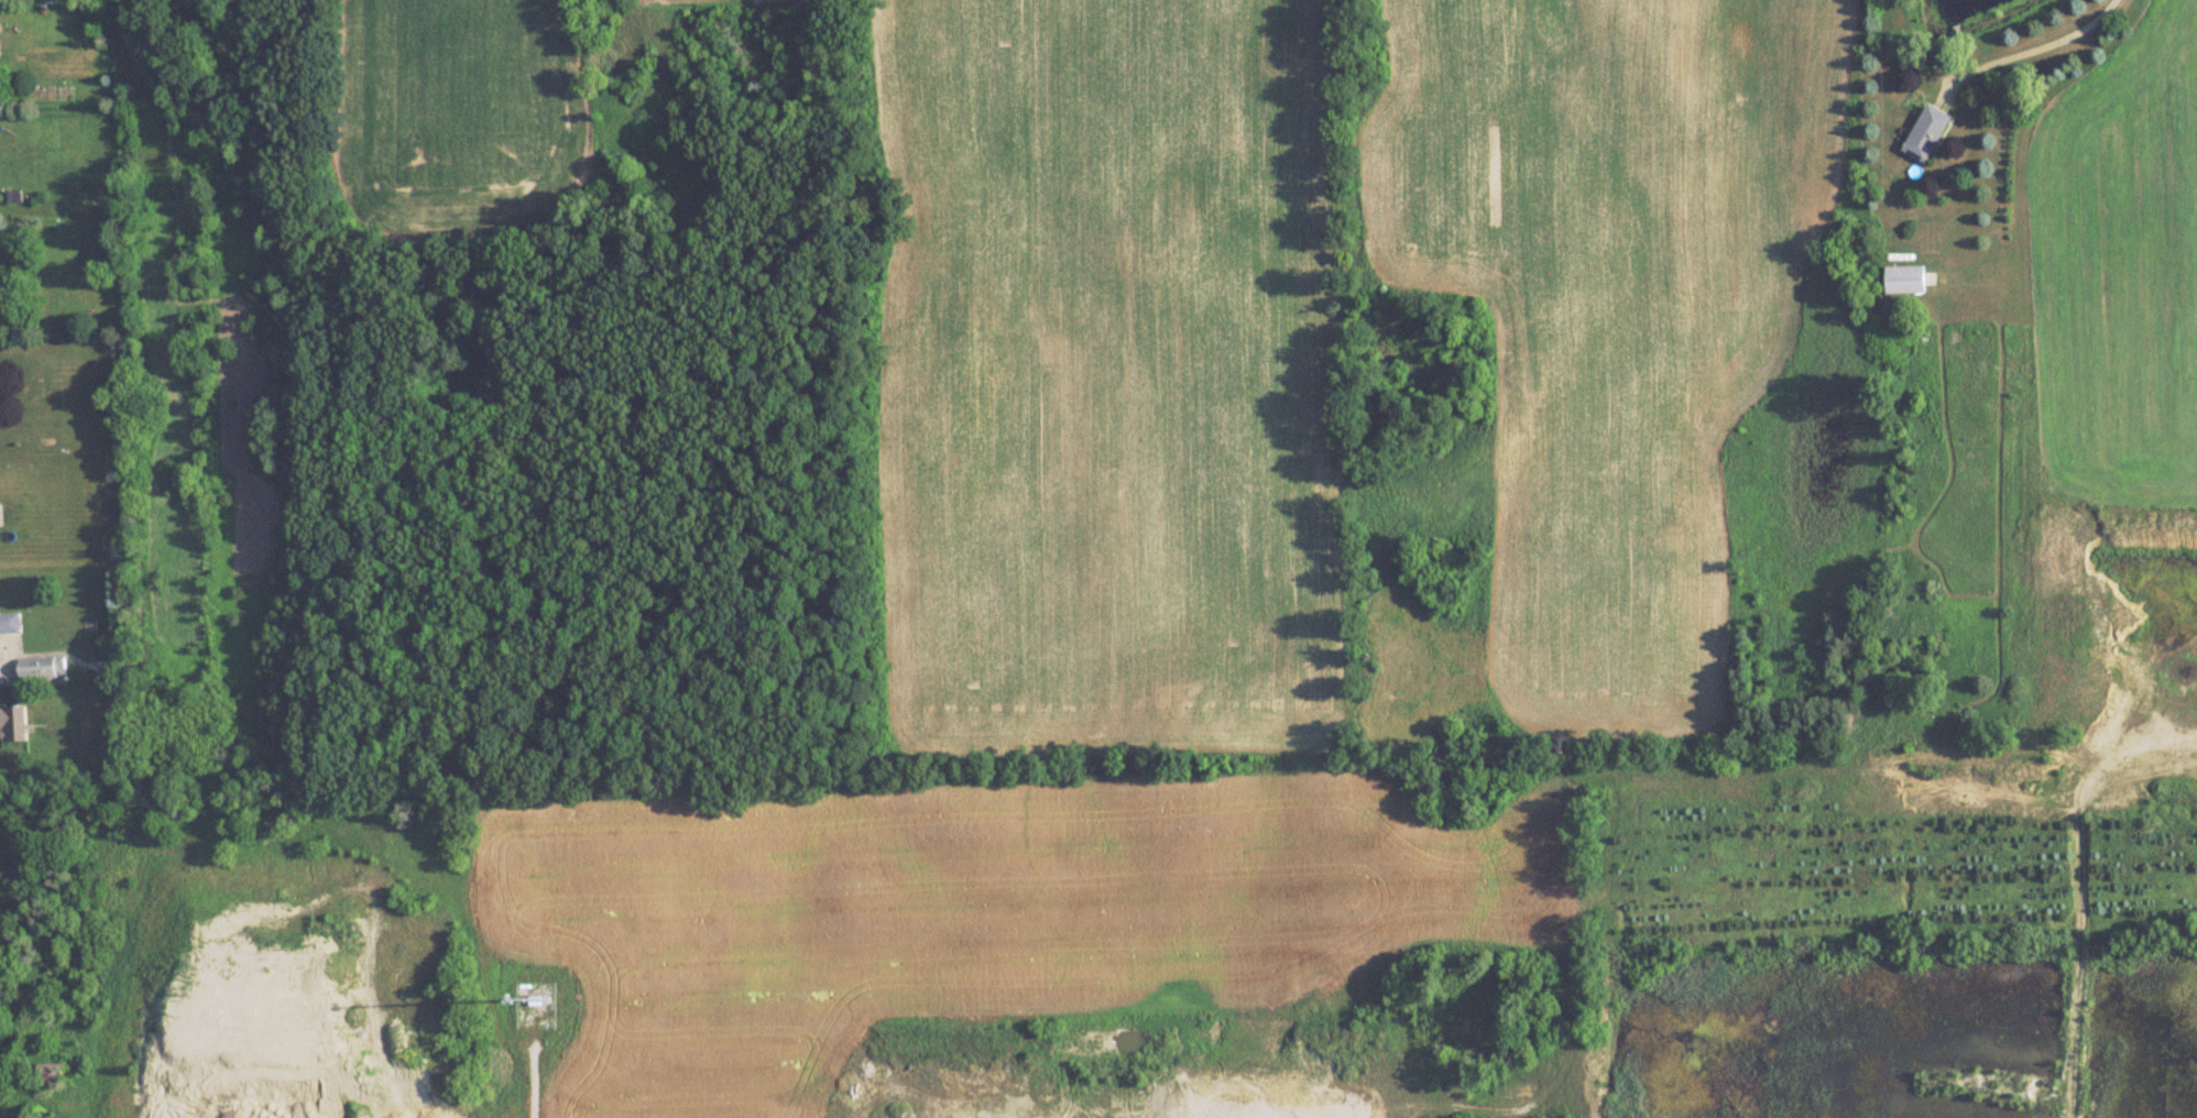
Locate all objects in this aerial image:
road: (2054, 45)
building: (1927, 131)
building: (1906, 277)
building: (10, 623)
building: (41, 666)
building: (102, 666)
building: (13, 722)
road: (533, 1072)

